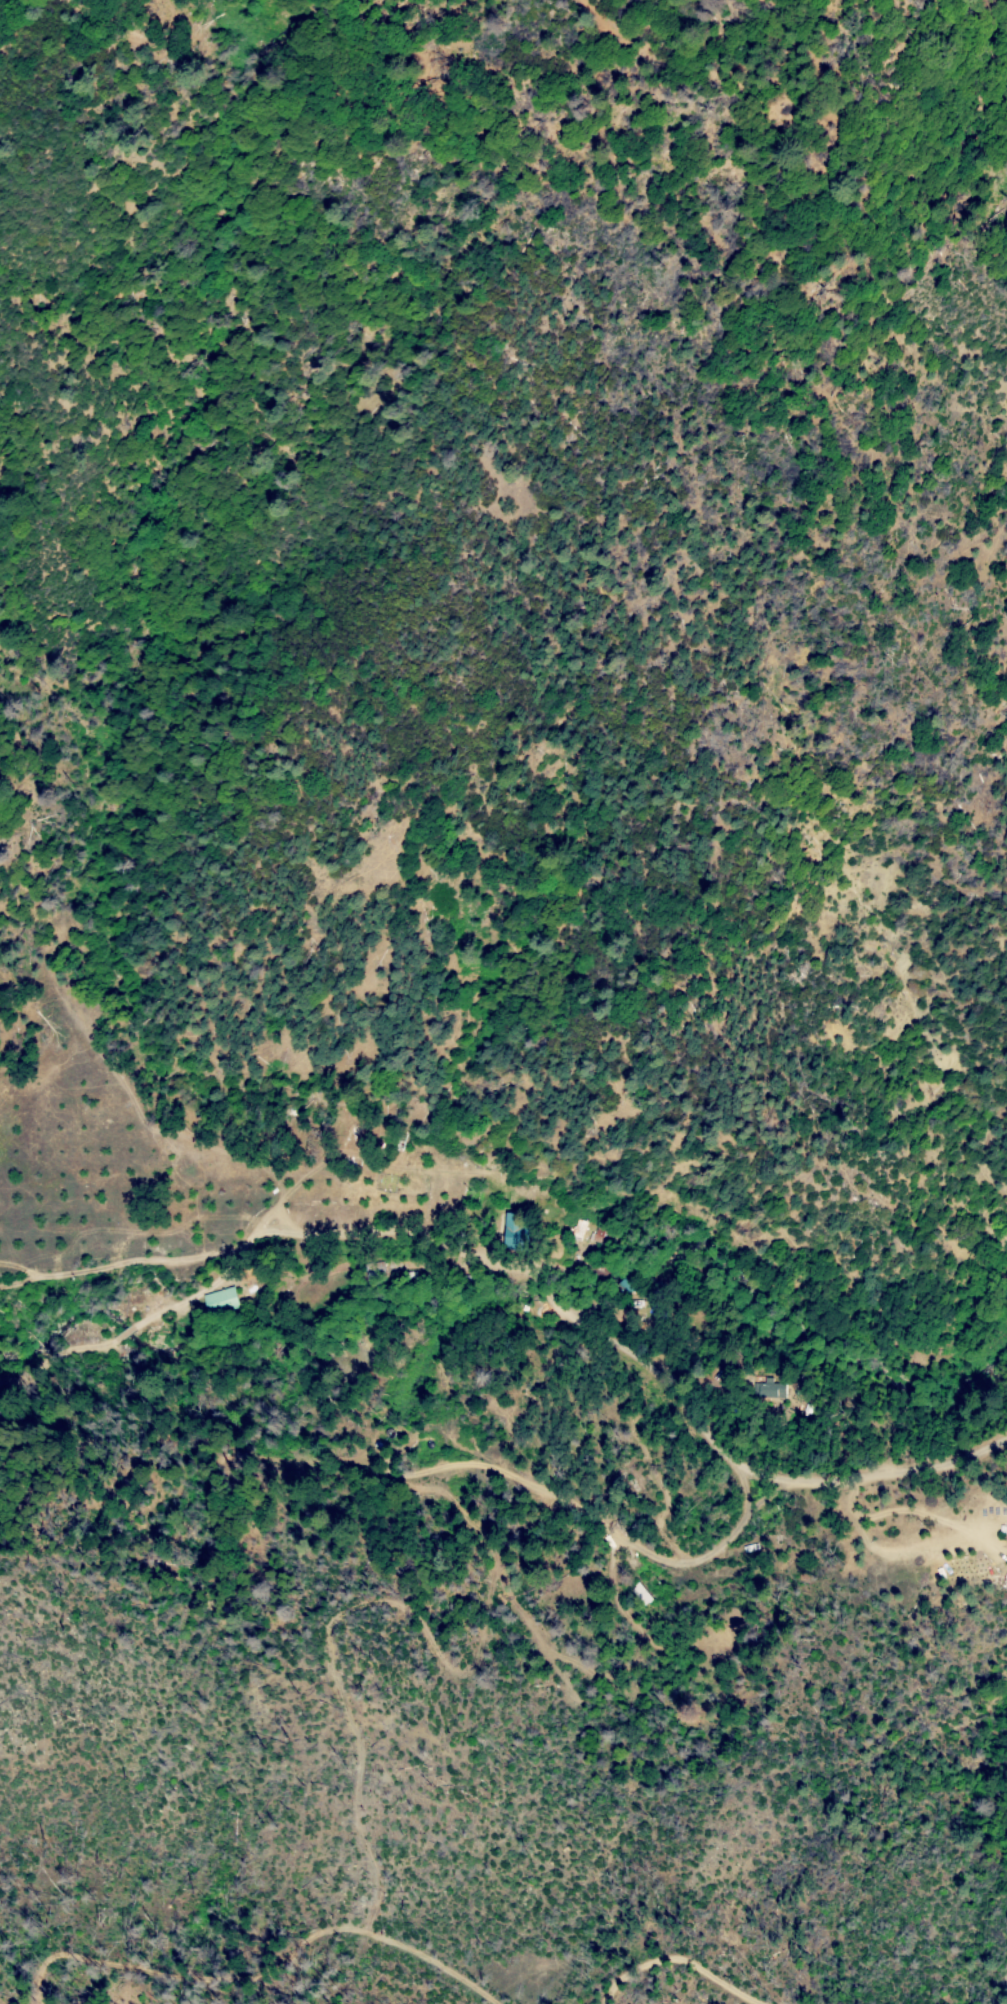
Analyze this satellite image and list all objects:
building: (340, 1135)
road: (298, 1186)
road: (283, 1220)
building: (578, 1230)
building: (516, 1233)
road: (270, 1235)
building: (604, 1237)
building: (376, 1269)
building: (628, 1284)
building: (253, 1290)
road: (545, 1301)
building: (224, 1303)
building: (181, 1308)
building: (101, 1325)
building: (769, 1389)
building: (380, 1445)
road: (469, 1447)
road: (755, 1474)
road: (603, 1528)
road: (521, 1985)

